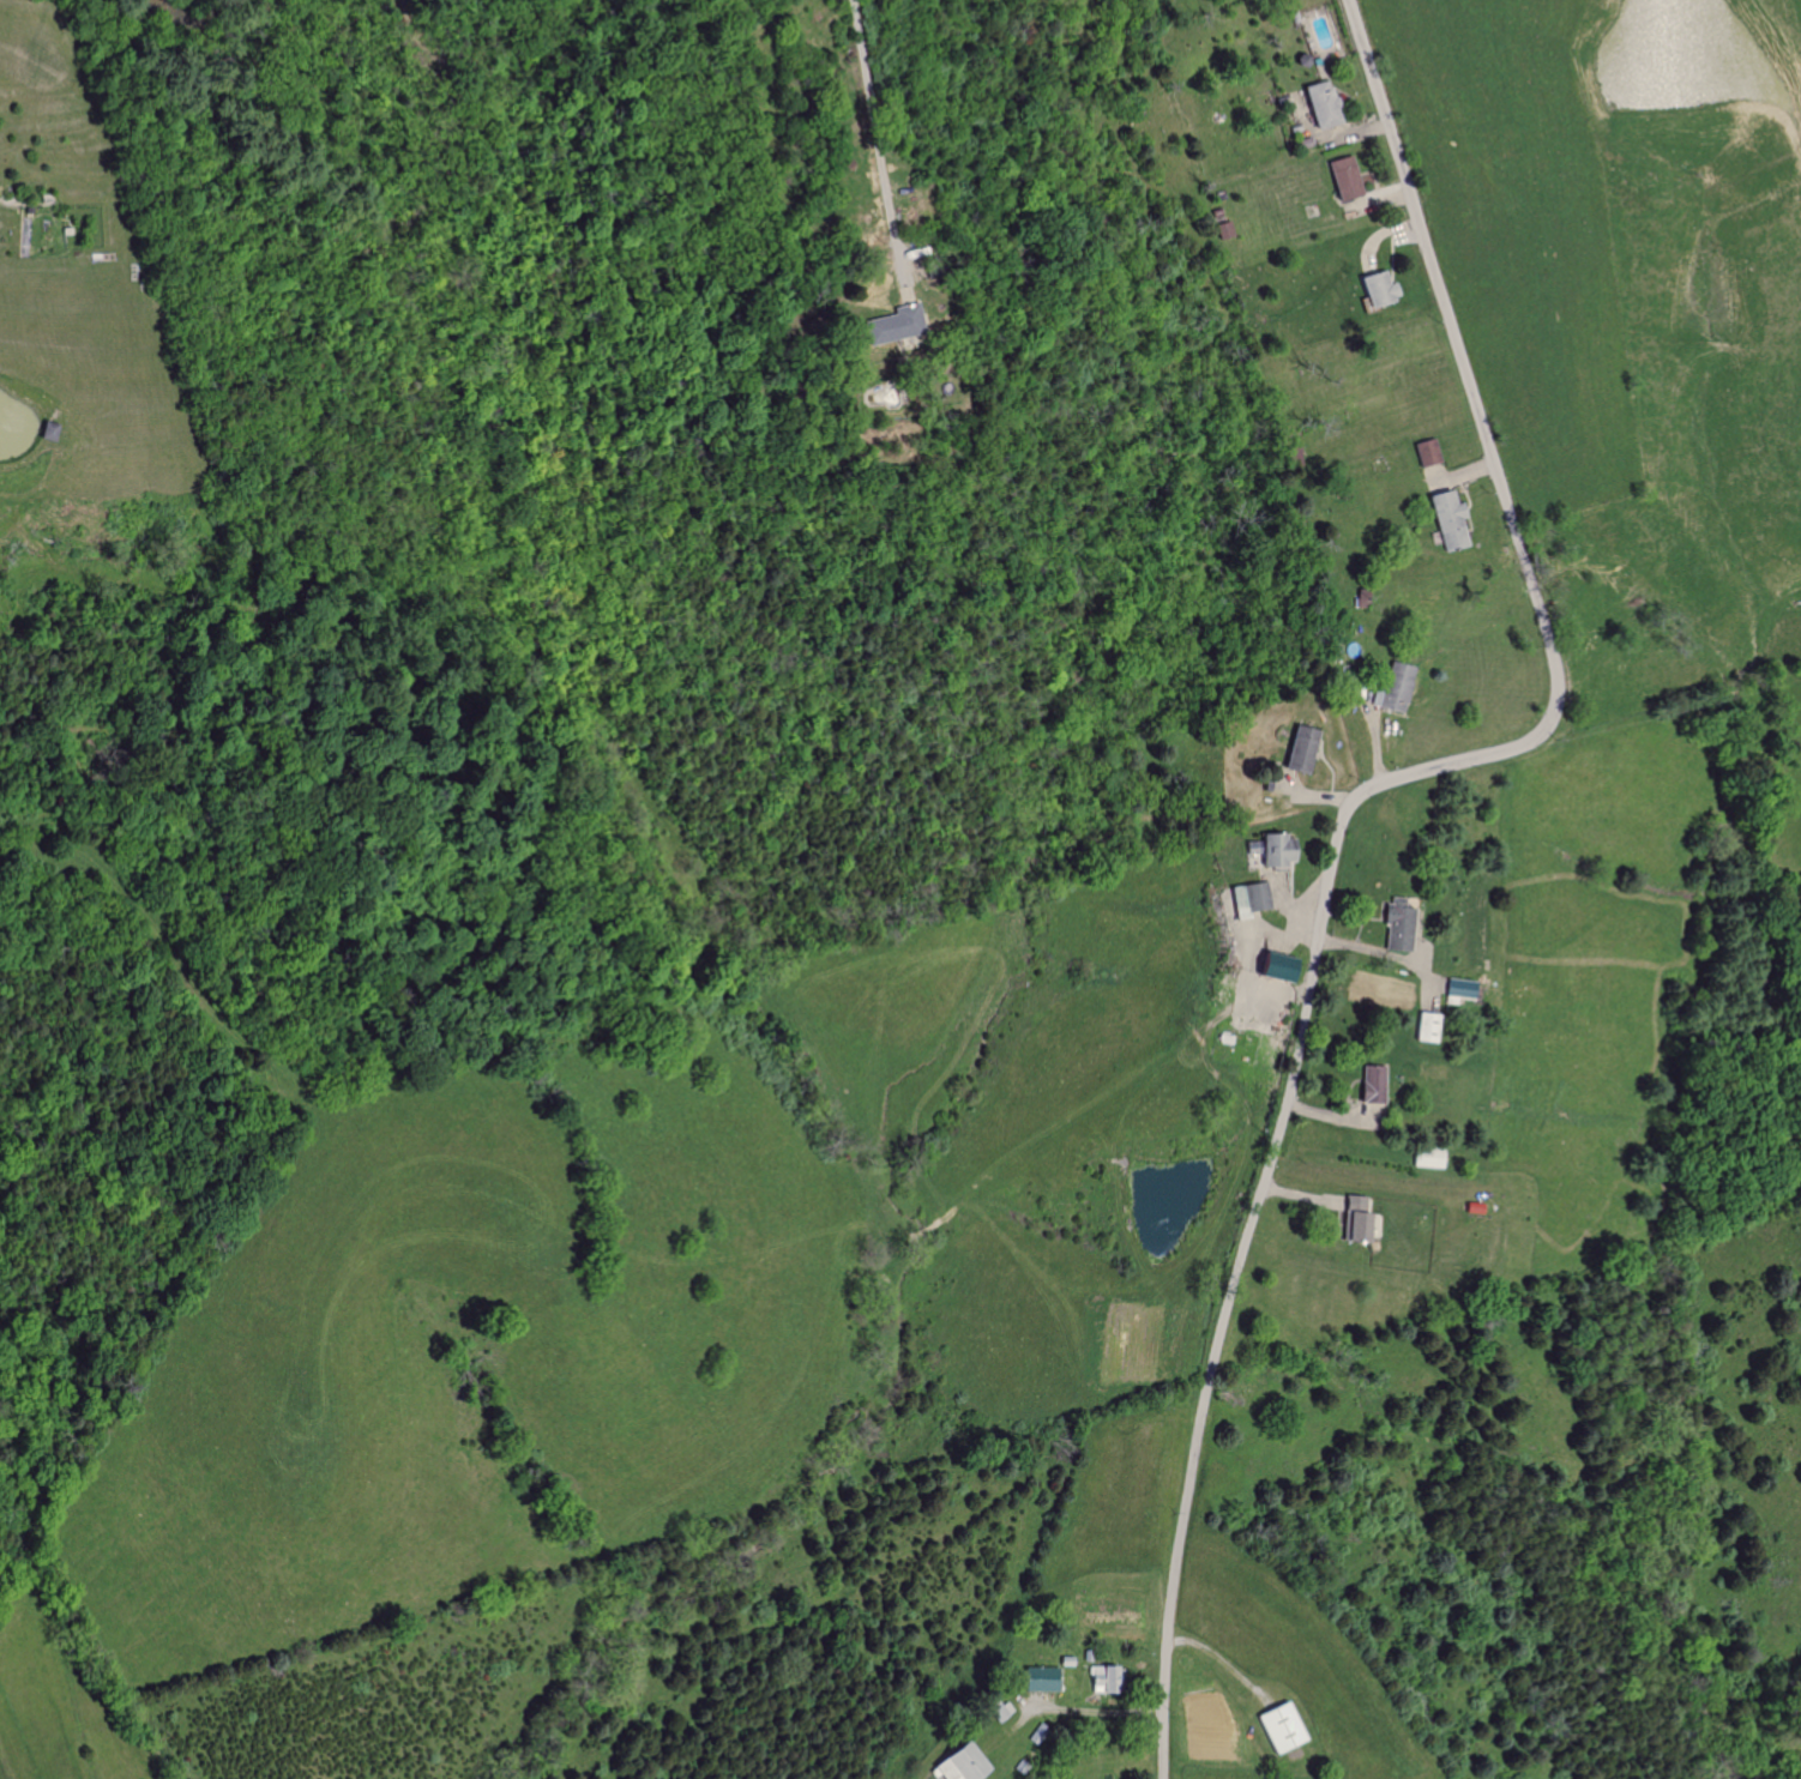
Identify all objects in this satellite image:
building: (1319, 103)
road: (875, 126)
building: (1341, 177)
building: (1224, 229)
building: (1375, 287)
building: (892, 324)
building: (44, 429)
building: (1424, 452)
building: (1446, 519)
building: (1392, 688)
building: (1295, 748)
road: (1343, 813)
building: (1272, 850)
building: (1246, 899)
building: (1396, 924)
road: (1381, 952)
building: (1273, 967)
building: (1459, 989)
building: (1427, 1027)
building: (1371, 1084)
building: (1354, 1219)
building: (1037, 1680)
building: (1097, 1680)
building: (996, 1711)
building: (1278, 1727)
building: (953, 1763)

